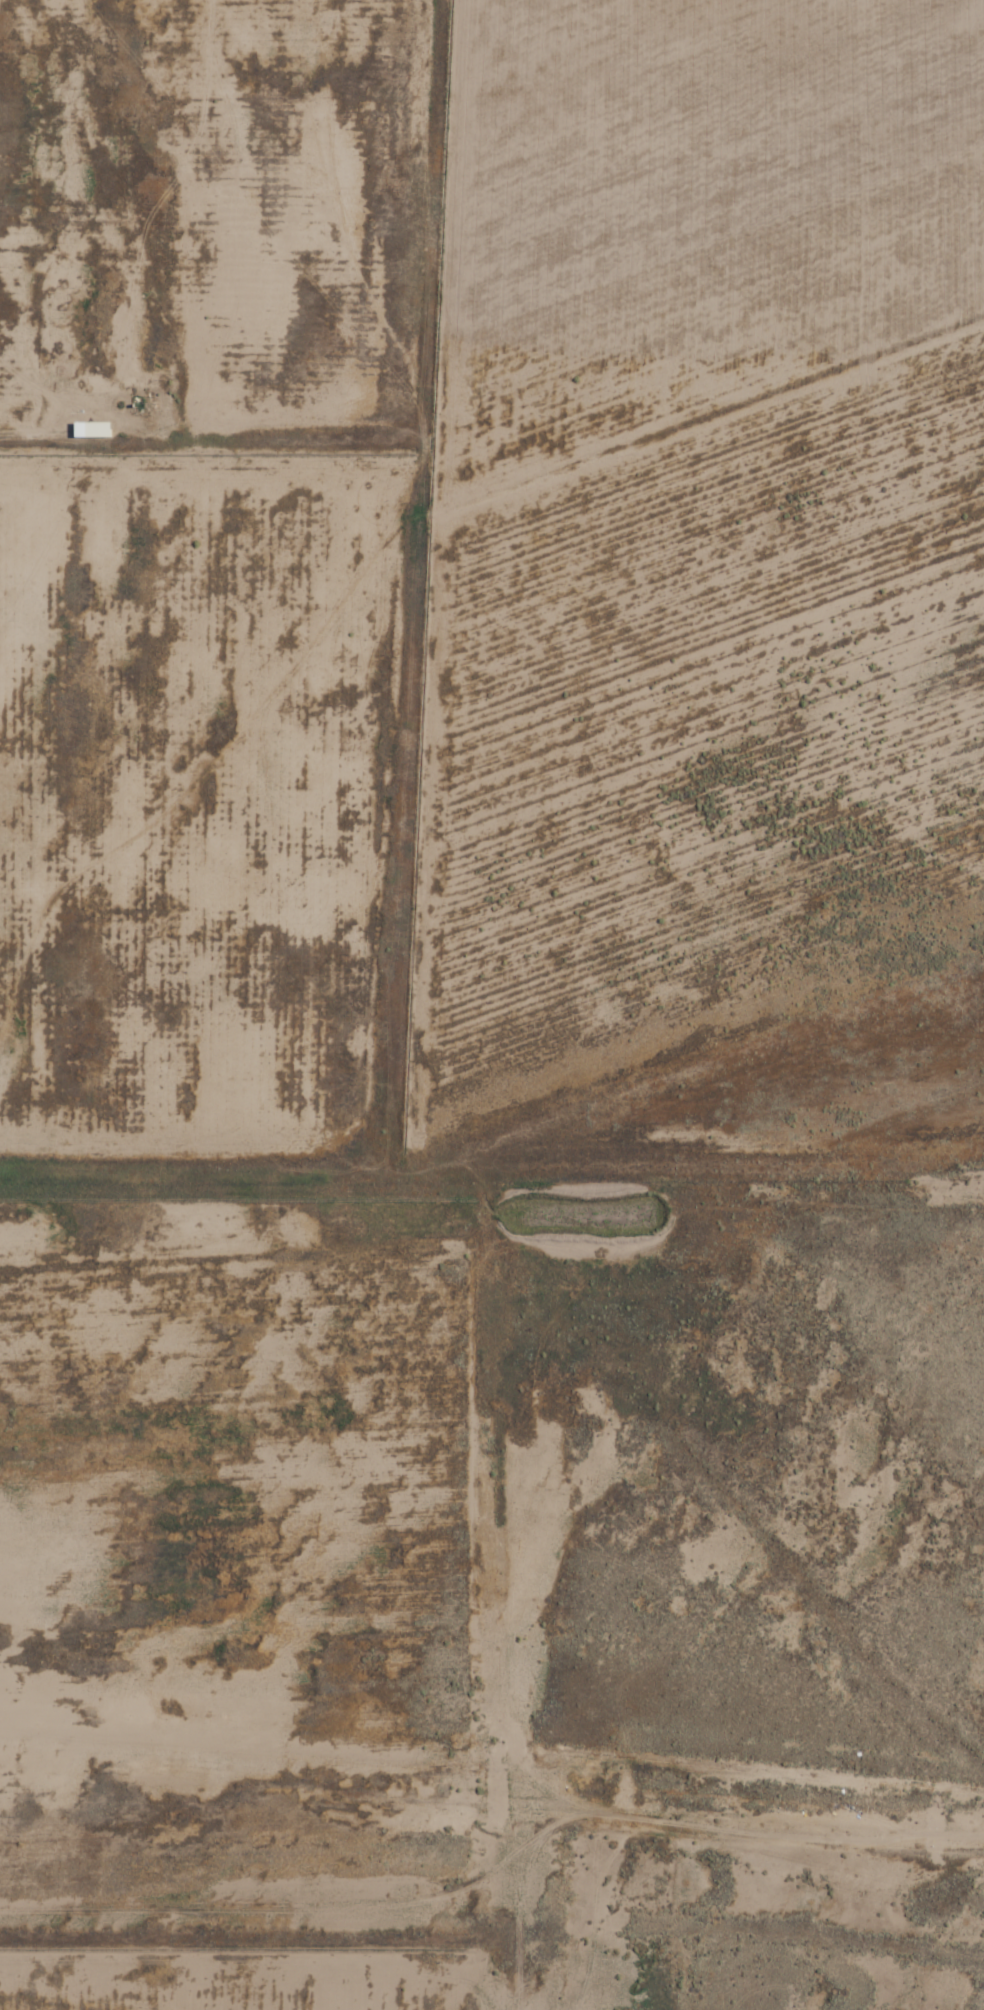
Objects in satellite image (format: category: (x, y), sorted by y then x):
road: (803, 1877)

